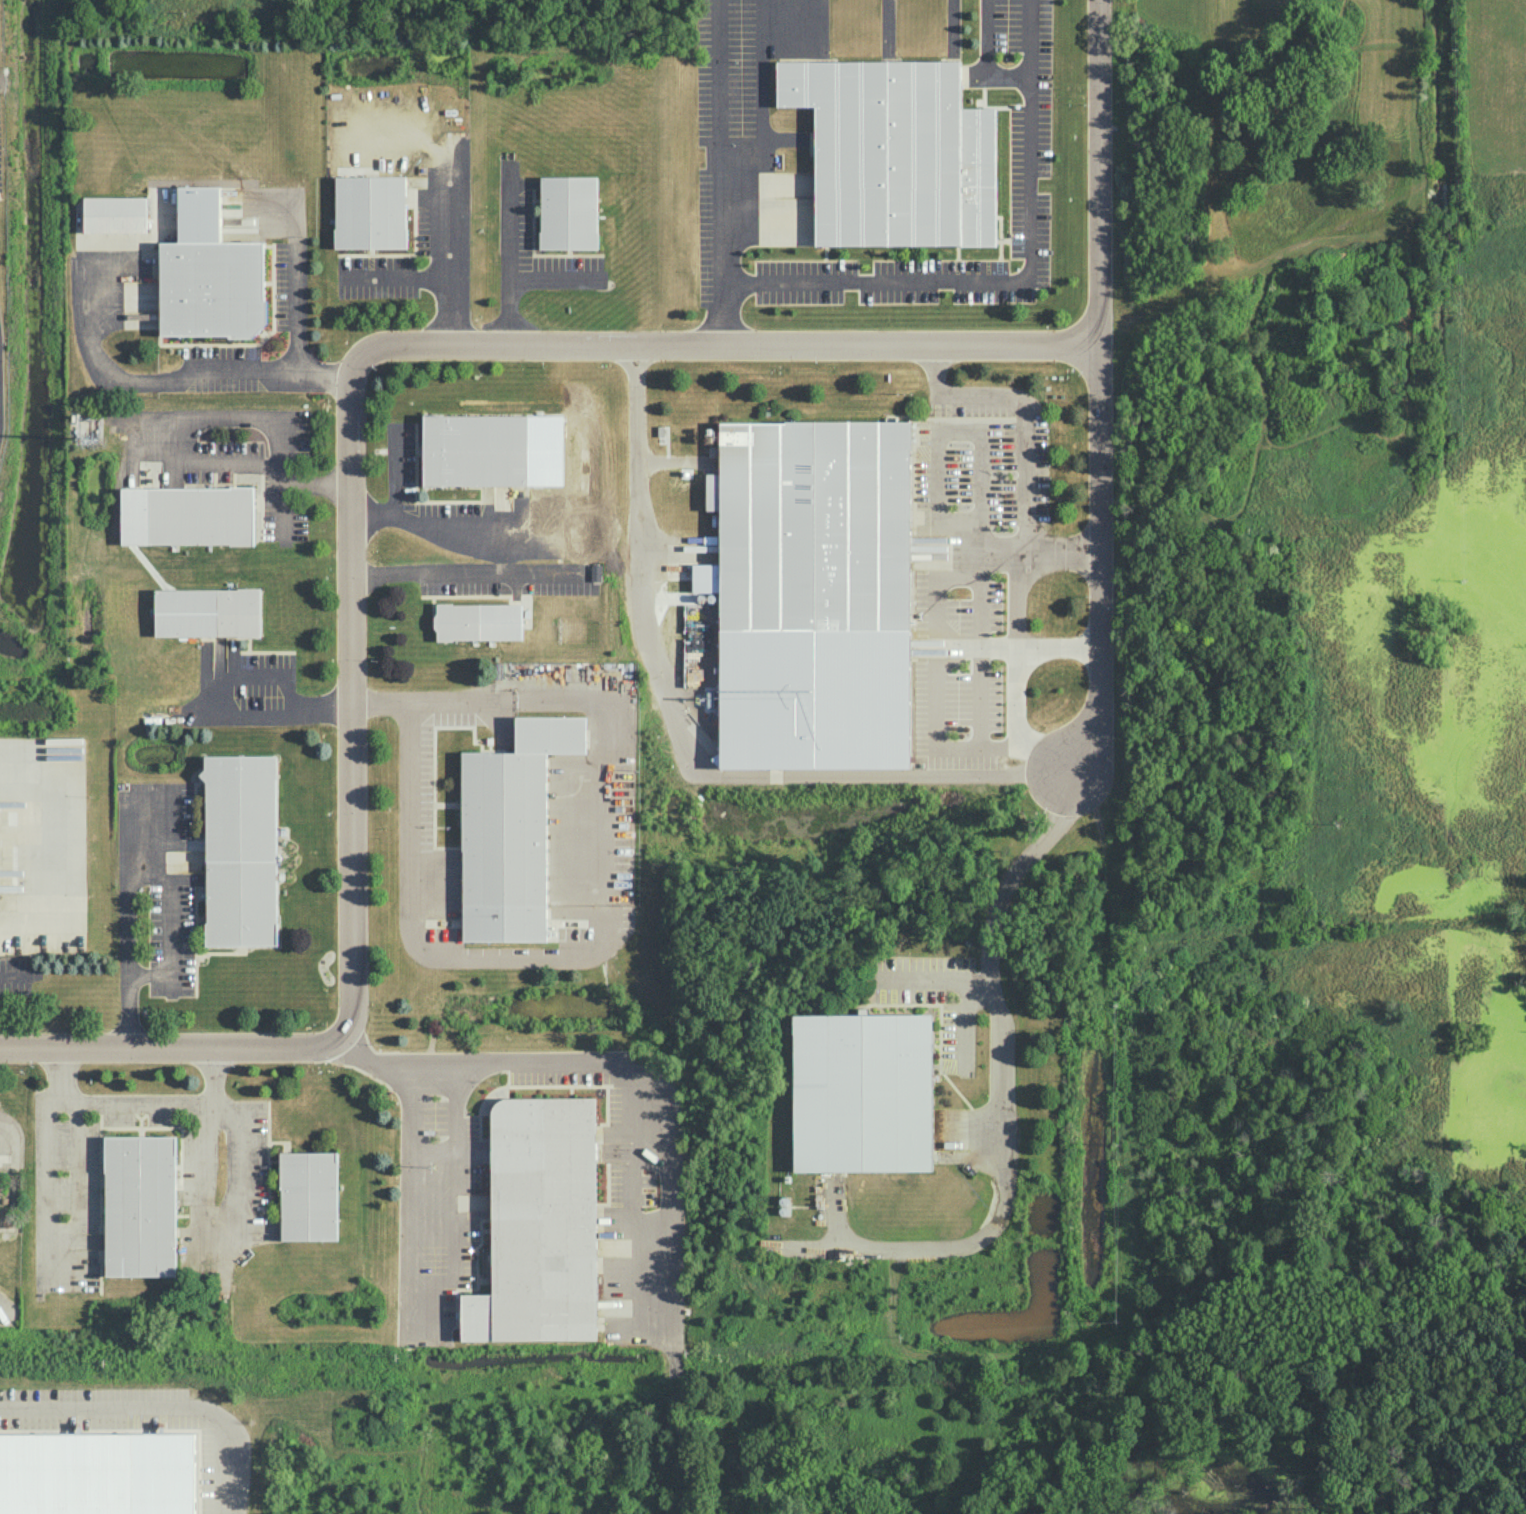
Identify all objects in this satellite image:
building: (895, 152)
road: (720, 171)
road: (1101, 172)
building: (369, 211)
building: (568, 212)
building: (115, 214)
road: (507, 257)
road: (447, 269)
building: (209, 274)
road: (551, 274)
road: (1014, 278)
road: (726, 344)
road: (90, 345)
road: (288, 370)
road: (326, 370)
road: (237, 412)
building: (475, 450)
road: (1023, 451)
road: (268, 461)
road: (393, 474)
road: (285, 506)
building: (187, 515)
road: (449, 533)
road: (991, 552)
road: (1105, 561)
road: (464, 576)
building: (814, 594)
building: (207, 611)
road: (940, 615)
building: (477, 621)
road: (984, 644)
road: (1061, 648)
road: (252, 673)
road: (1018, 677)
road: (429, 698)
road: (353, 705)
road: (271, 715)
road: (687, 741)
road: (1000, 744)
building: (510, 830)
building: (240, 850)
road: (52, 858)
road: (410, 881)
road: (127, 921)
road: (169, 931)
road: (16, 975)
road: (168, 1052)
road: (600, 1062)
road: (1001, 1075)
building: (862, 1092)
road: (168, 1100)
road: (7, 1137)
road: (46, 1160)
road: (79, 1169)
building: (308, 1195)
building: (140, 1205)
building: (543, 1218)
road: (226, 1235)
road: (428, 1277)
building: (611, 1309)
road: (158, 1403)
building: (97, 1473)

